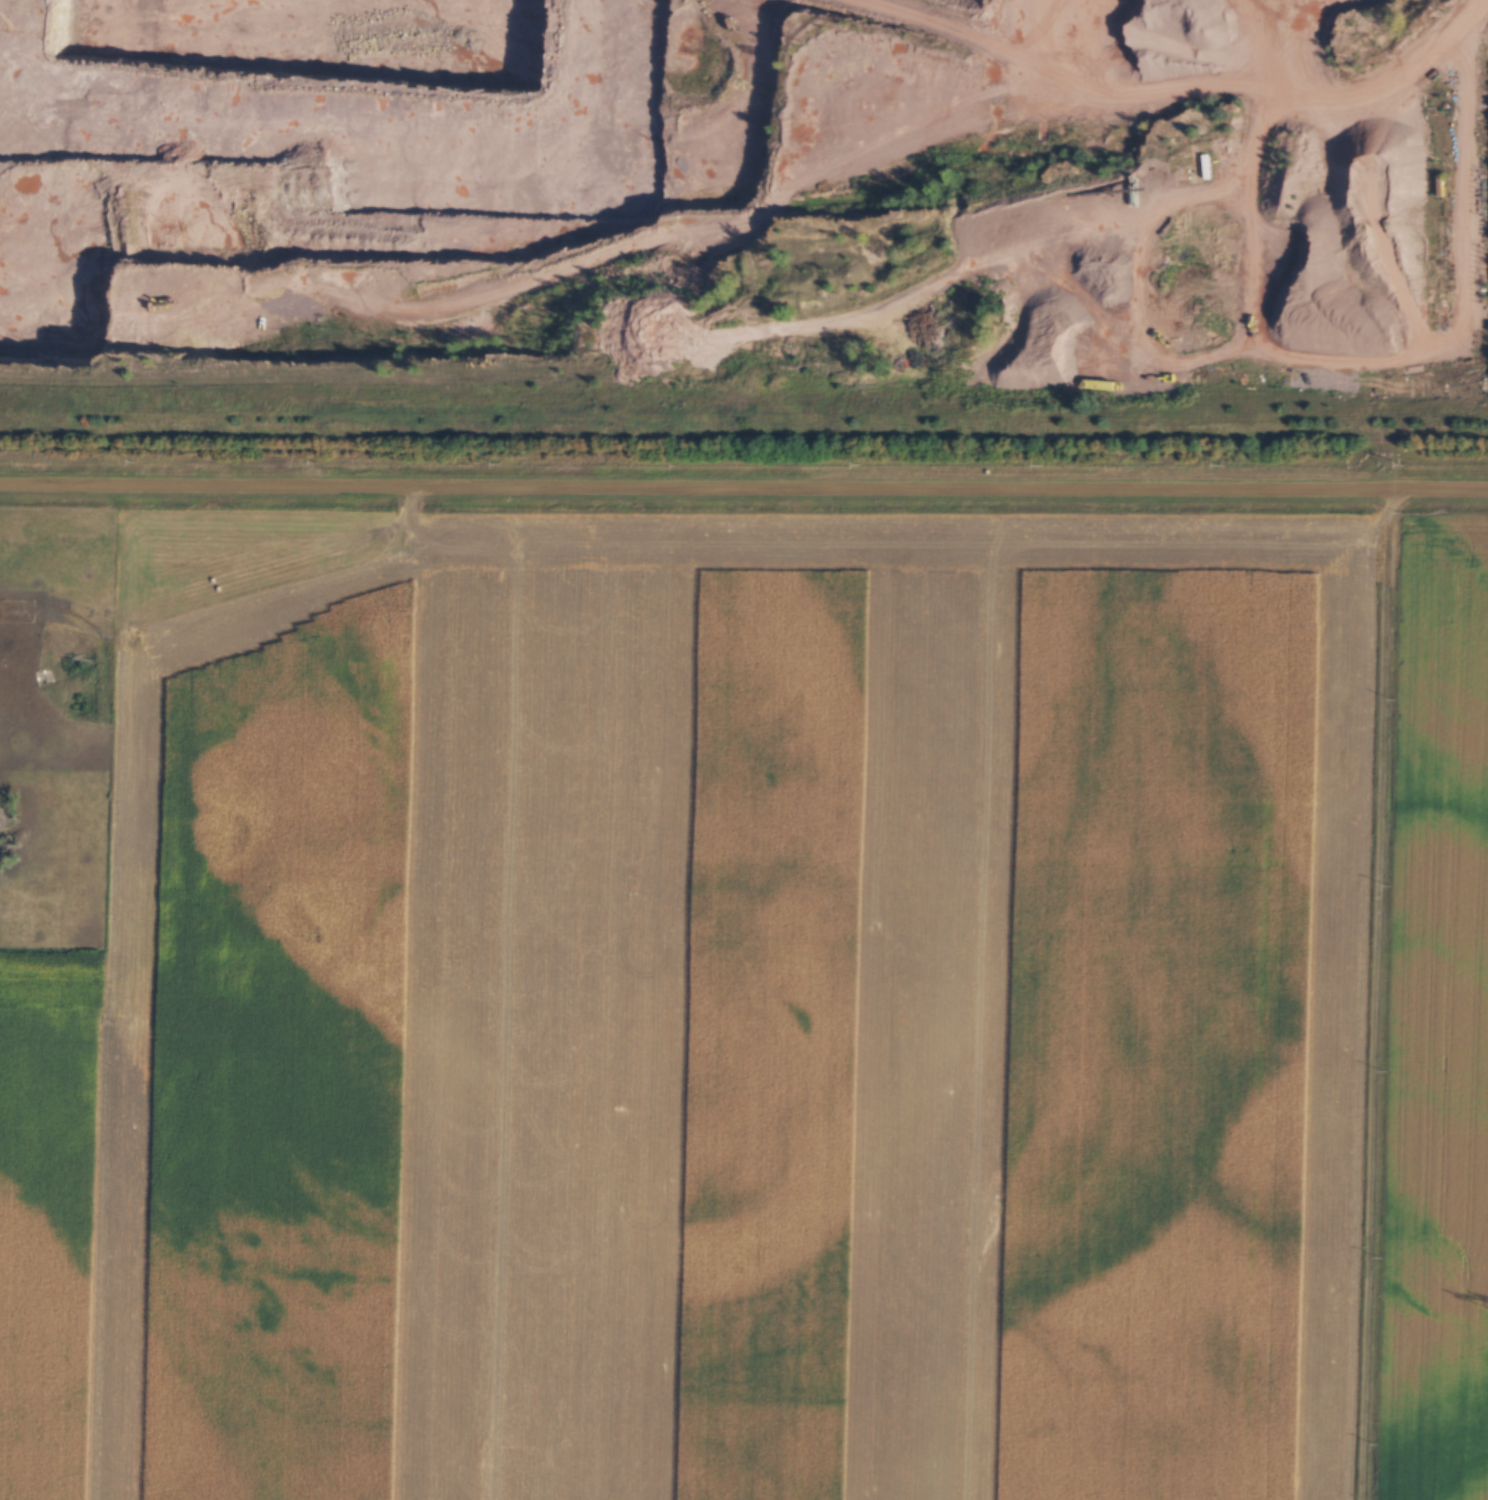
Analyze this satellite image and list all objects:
quarry: (750, 200)
road: (723, 212)
road: (743, 493)

